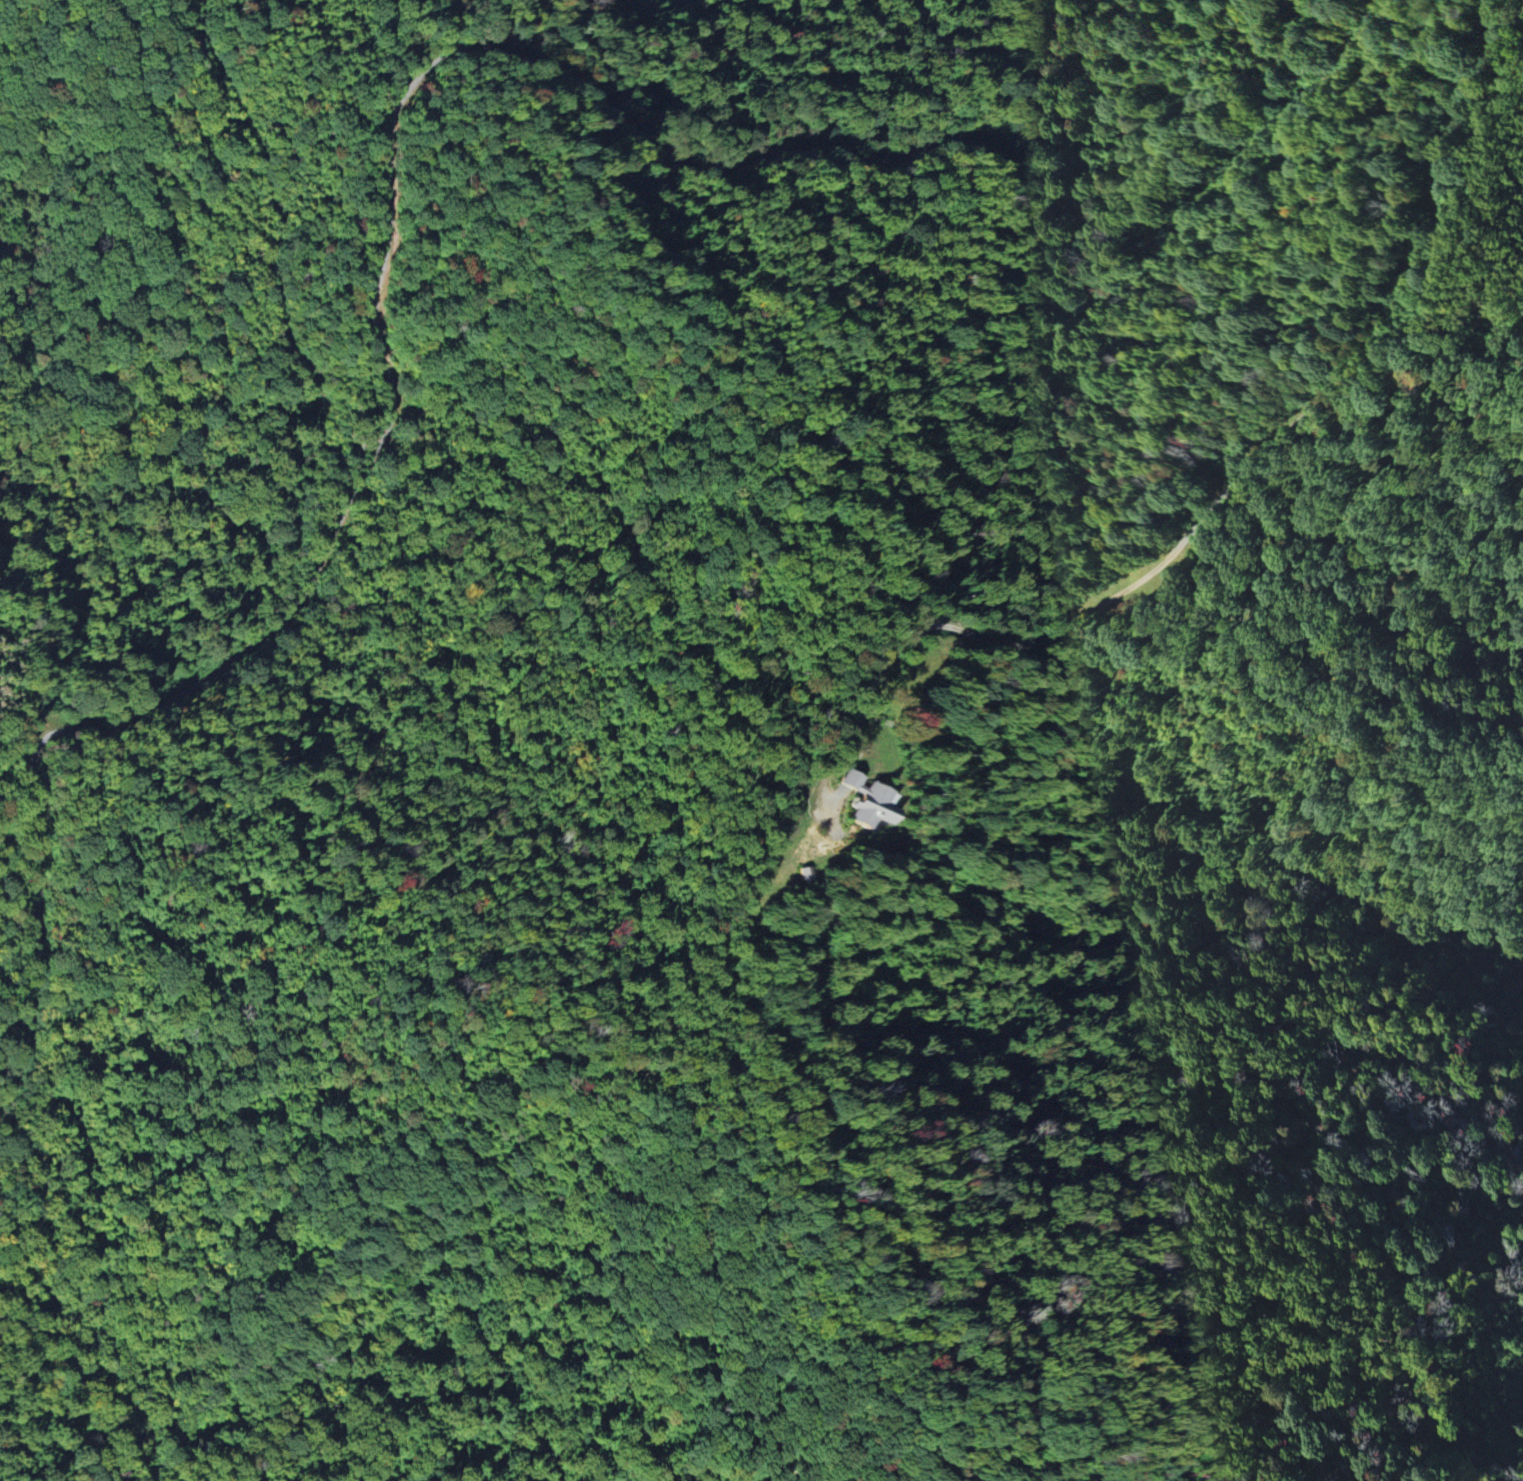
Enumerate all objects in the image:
road: (432, 66)
road: (1222, 498)
building: (868, 804)
building: (803, 873)

